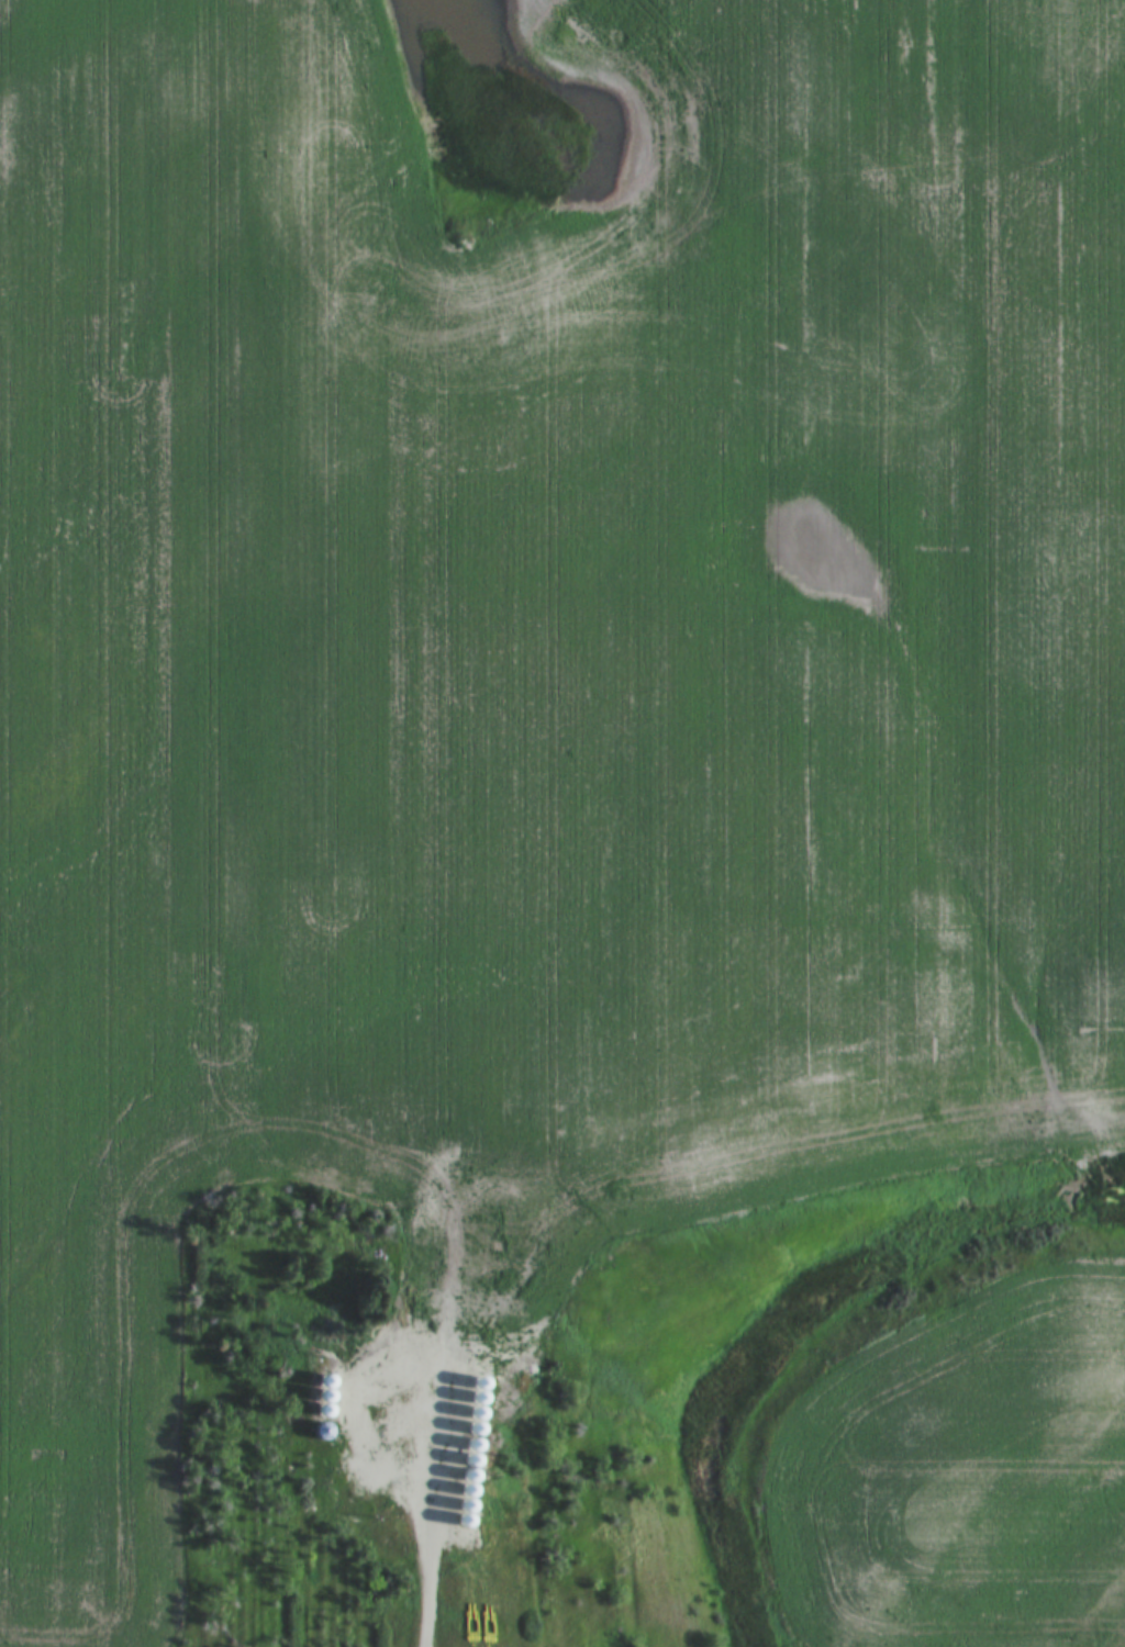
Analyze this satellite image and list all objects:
building: (432, 1330)
building: (466, 1392)
building: (324, 1432)
road: (425, 1453)
building: (457, 1523)

